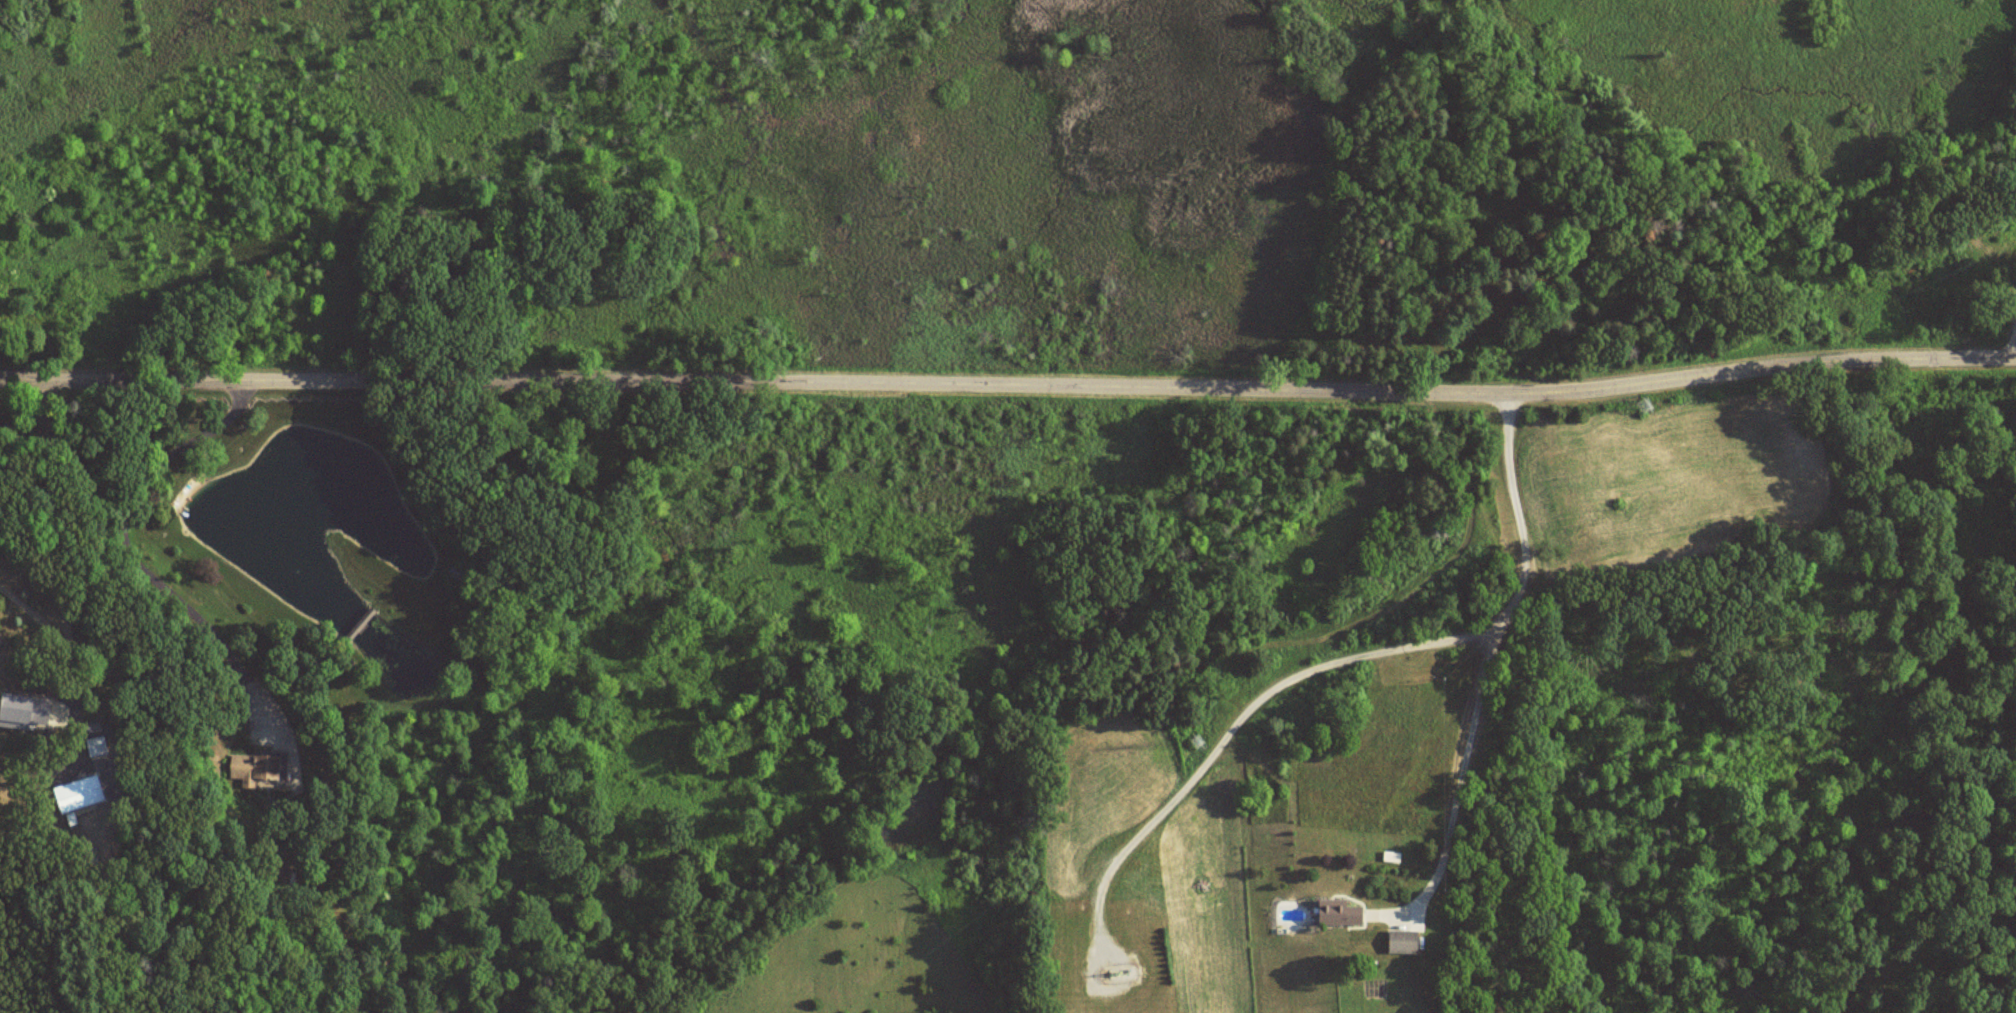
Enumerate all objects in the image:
road: (1008, 385)
road: (83, 541)
road: (159, 579)
road: (1488, 659)
building: (22, 713)
building: (254, 766)
building: (93, 786)
building: (1334, 912)
building: (1401, 941)

